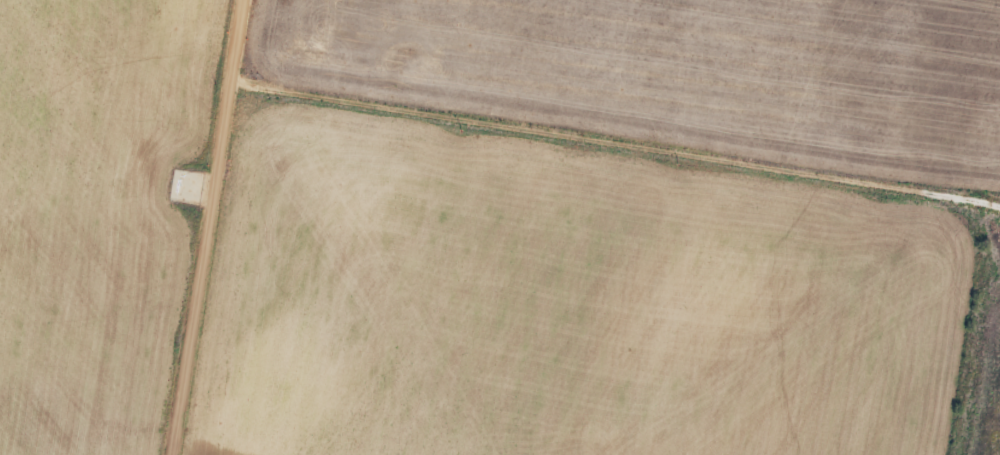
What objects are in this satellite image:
crop: (675, 75)
road: (615, 151)
crop: (98, 213)
road: (208, 227)
crop: (563, 304)

